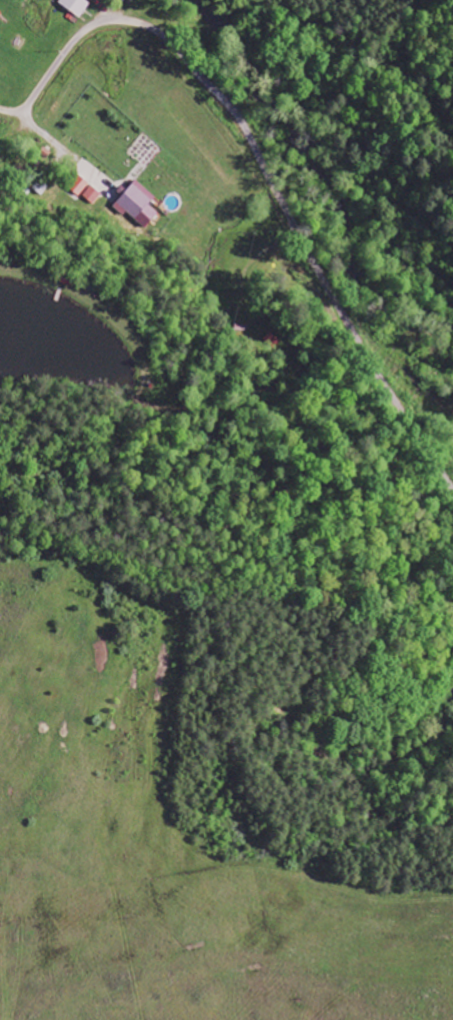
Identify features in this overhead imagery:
building: (76, 6)
road: (104, 11)
road: (57, 66)
building: (92, 195)
building: (139, 205)
road: (298, 234)

